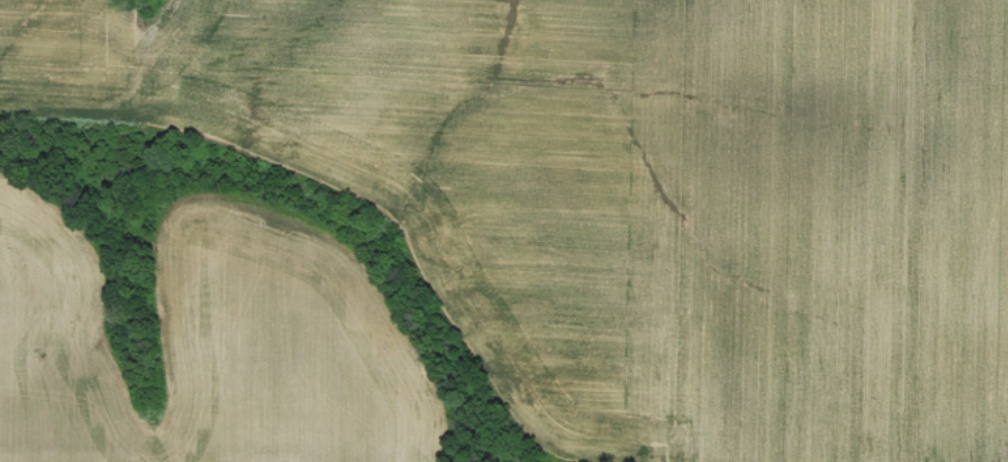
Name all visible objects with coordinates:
road: (95, 80)

